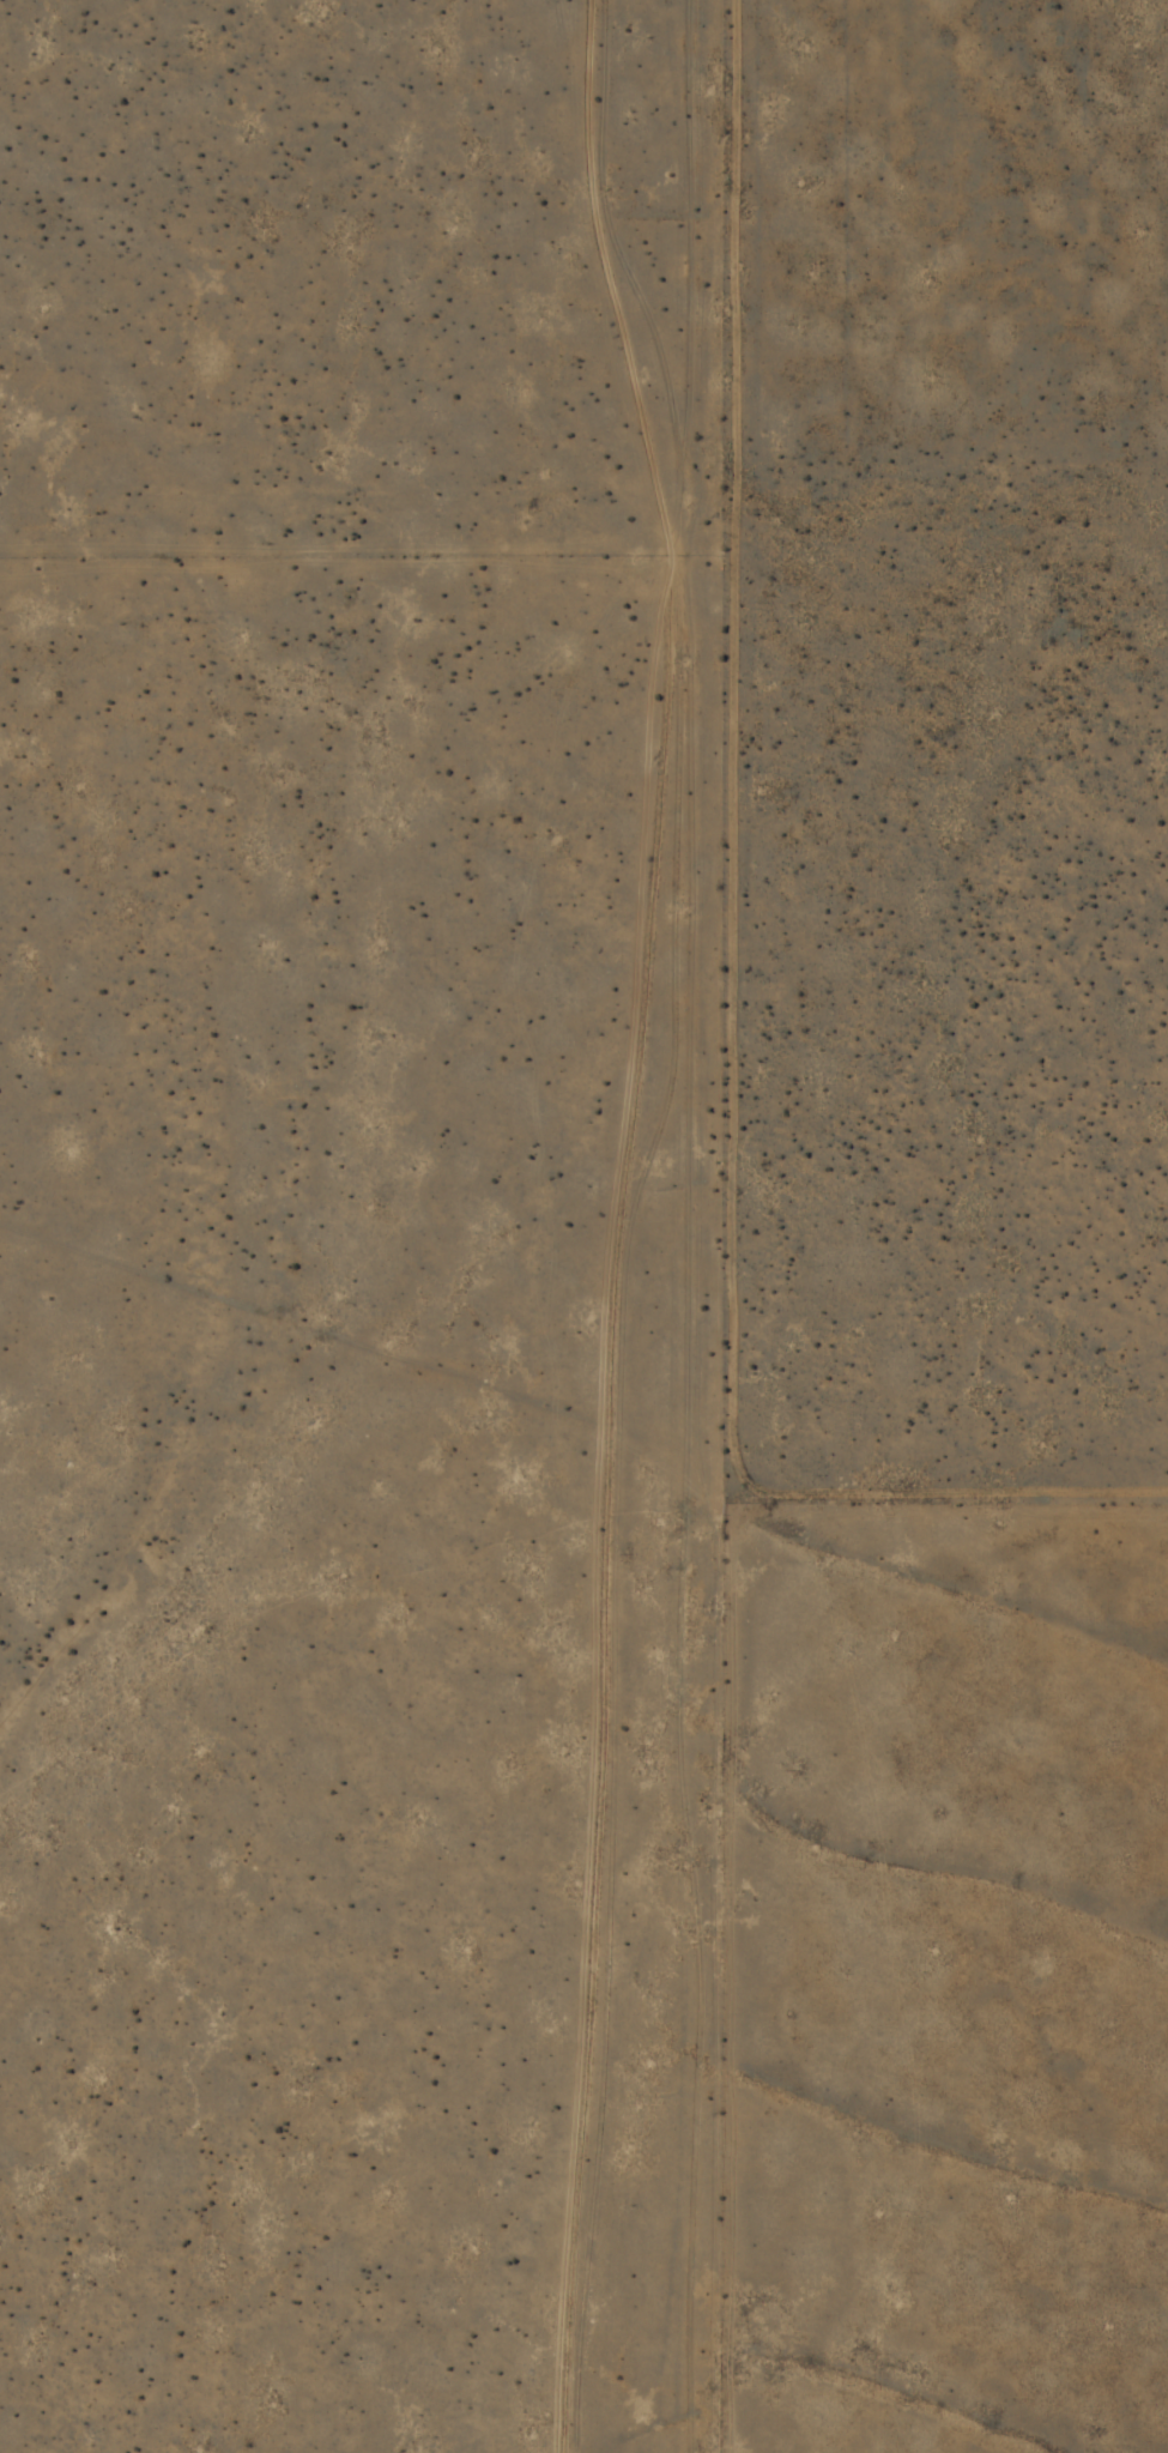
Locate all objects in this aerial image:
road: (933, 537)
road: (694, 1229)

